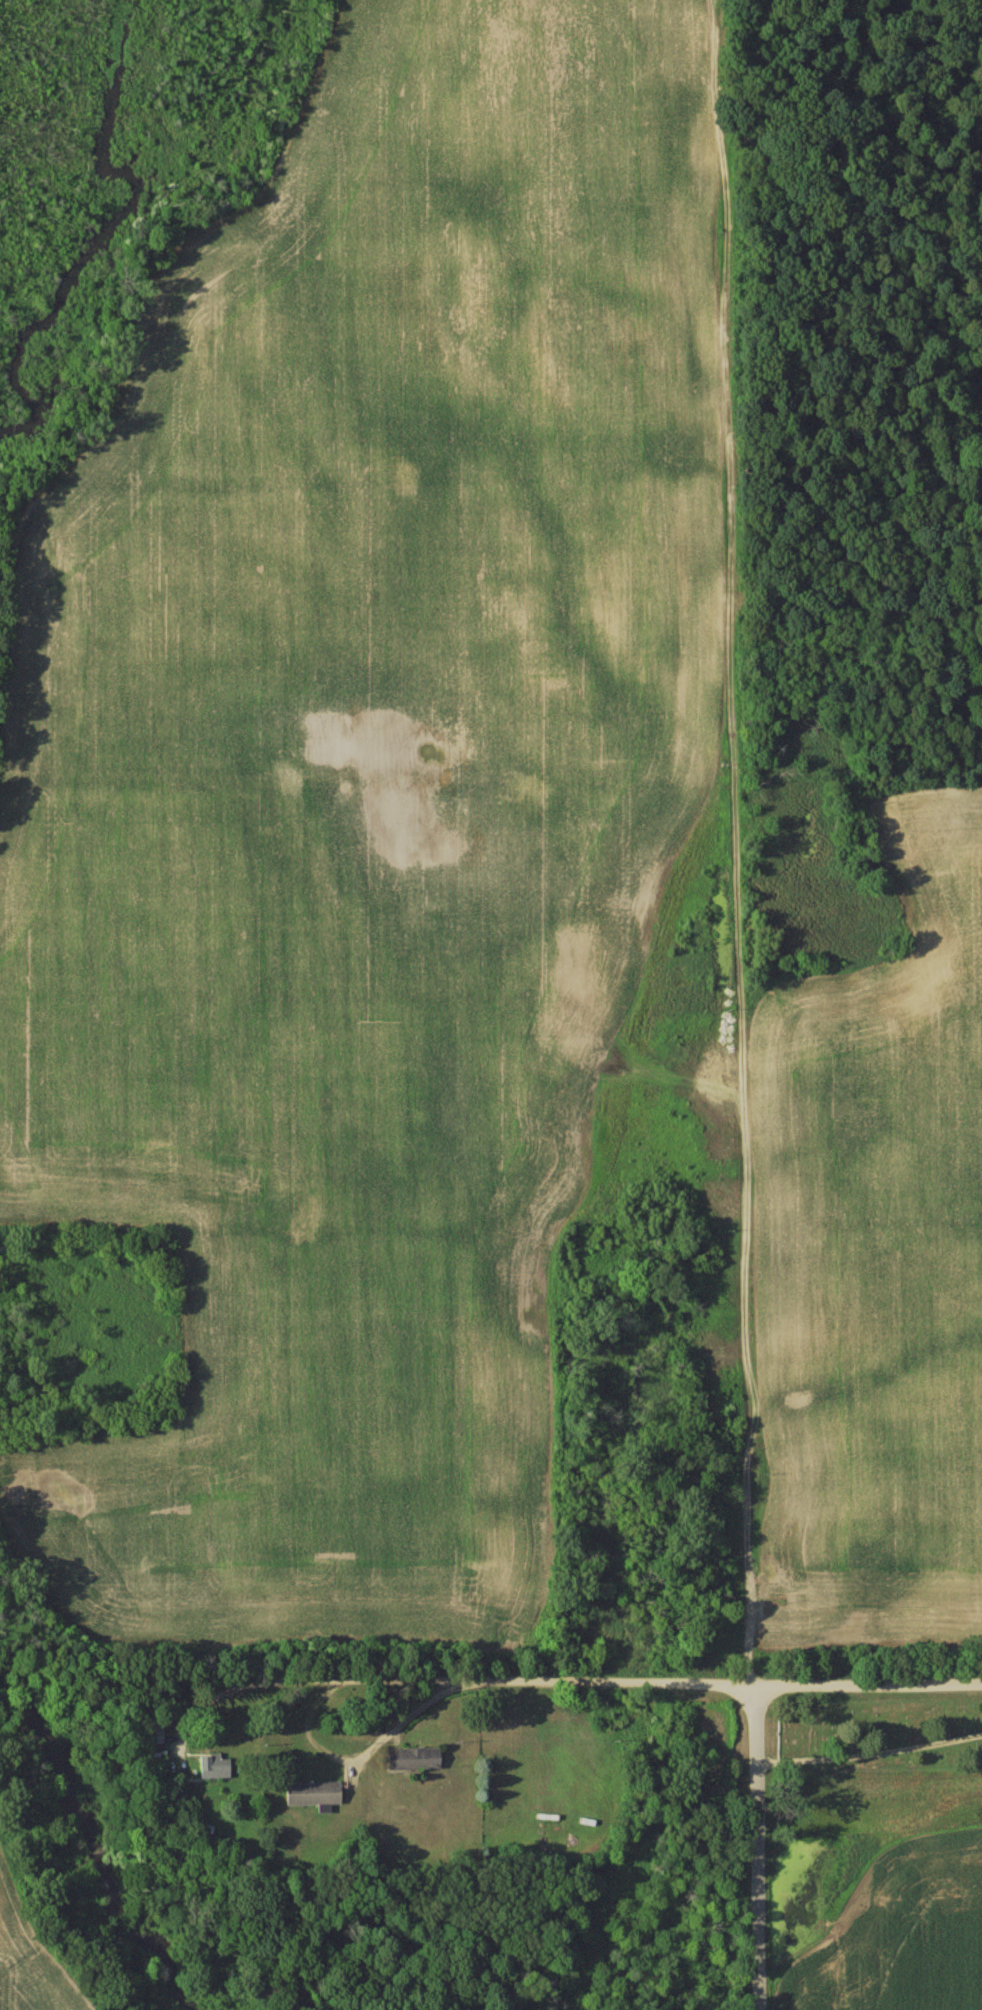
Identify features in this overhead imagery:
road: (560, 1681)
park: (880, 1732)
building: (157, 1738)
building: (416, 1759)
road: (355, 1766)
building: (217, 1767)
building: (316, 1794)
road: (760, 1846)

